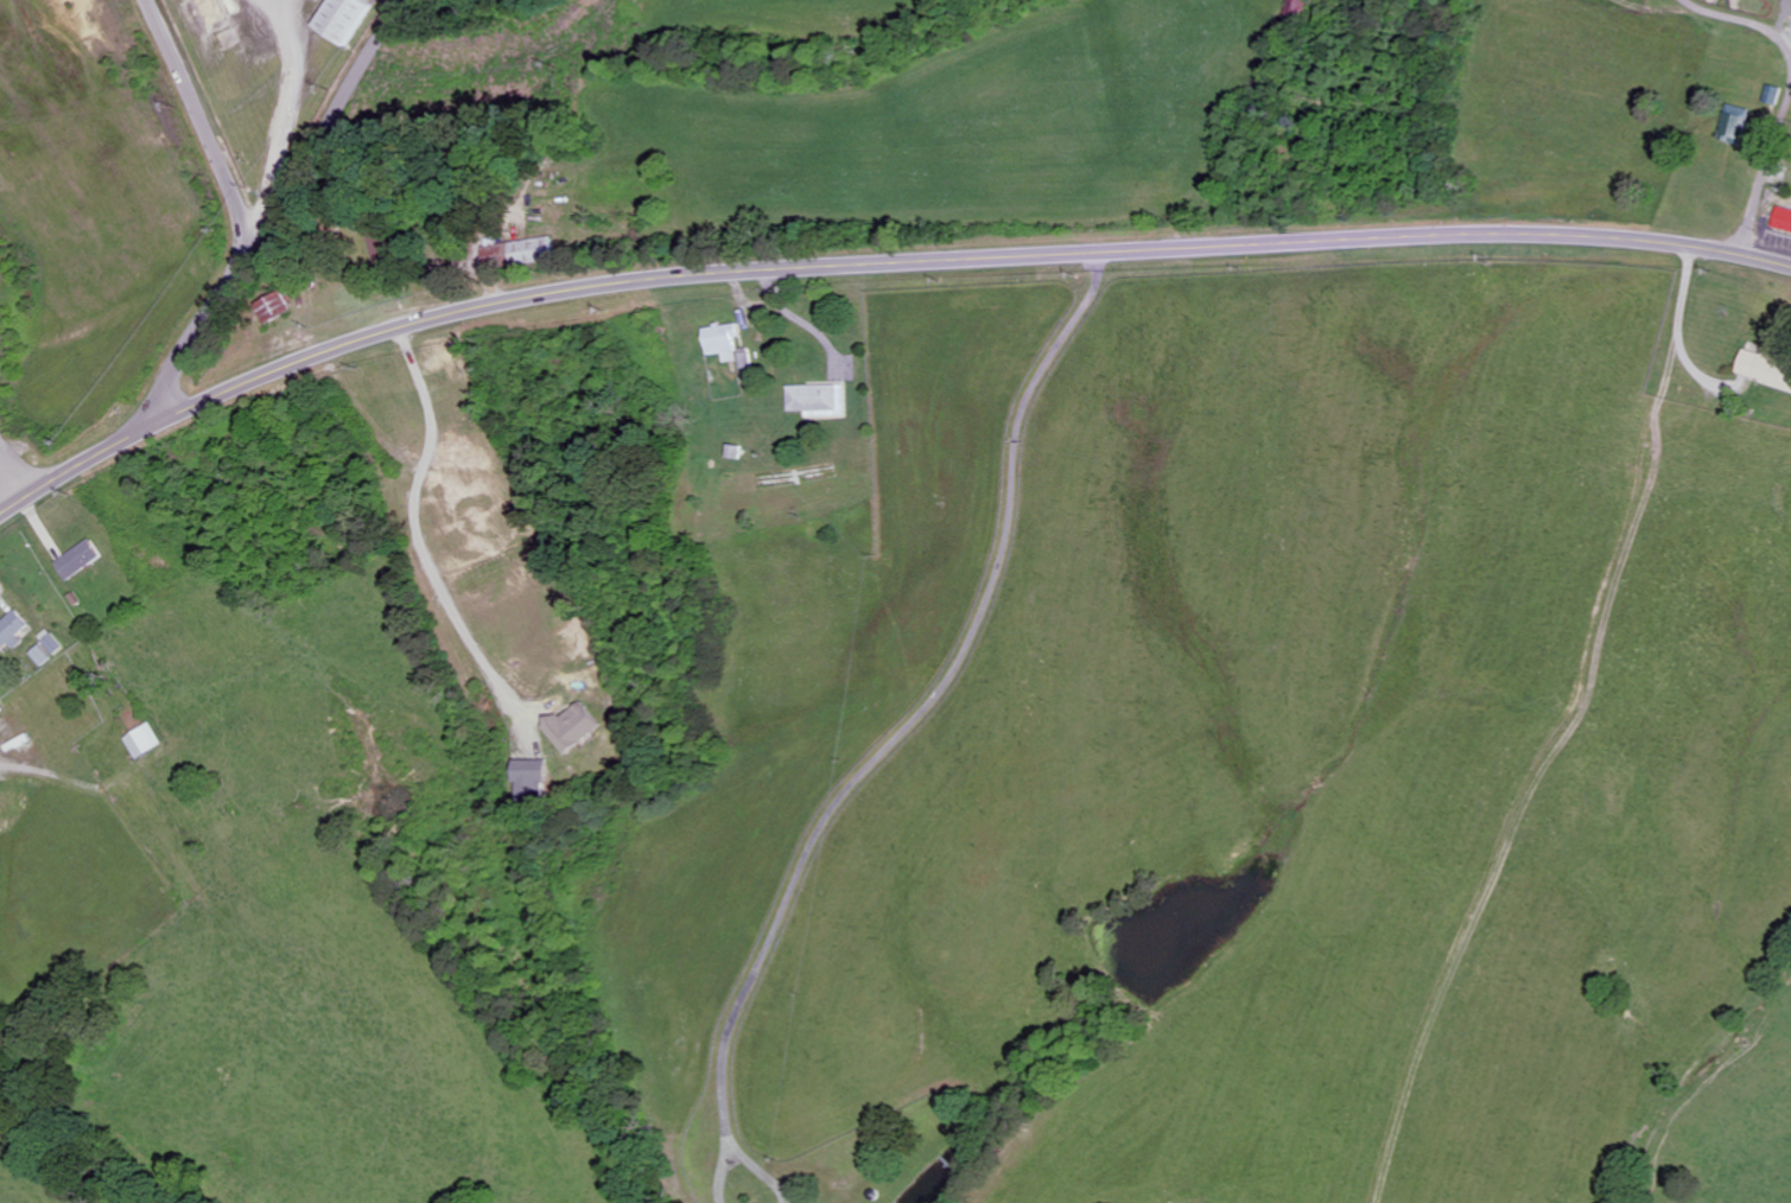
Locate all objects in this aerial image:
road: (1745, 17)
building: (345, 19)
building: (1774, 94)
road: (329, 123)
building: (1736, 123)
road: (203, 125)
road: (1768, 165)
building: (1784, 219)
parking lot: (1773, 238)
road: (1770, 248)
road: (872, 262)
building: (278, 307)
road: (1684, 332)
road: (203, 335)
building: (724, 340)
building: (1767, 370)
building: (823, 401)
road: (11, 475)
road: (421, 535)
building: (83, 560)
building: (14, 632)
building: (57, 644)
building: (45, 656)
road: (919, 704)
building: (574, 728)
building: (150, 741)
building: (535, 781)
road: (728, 1150)

